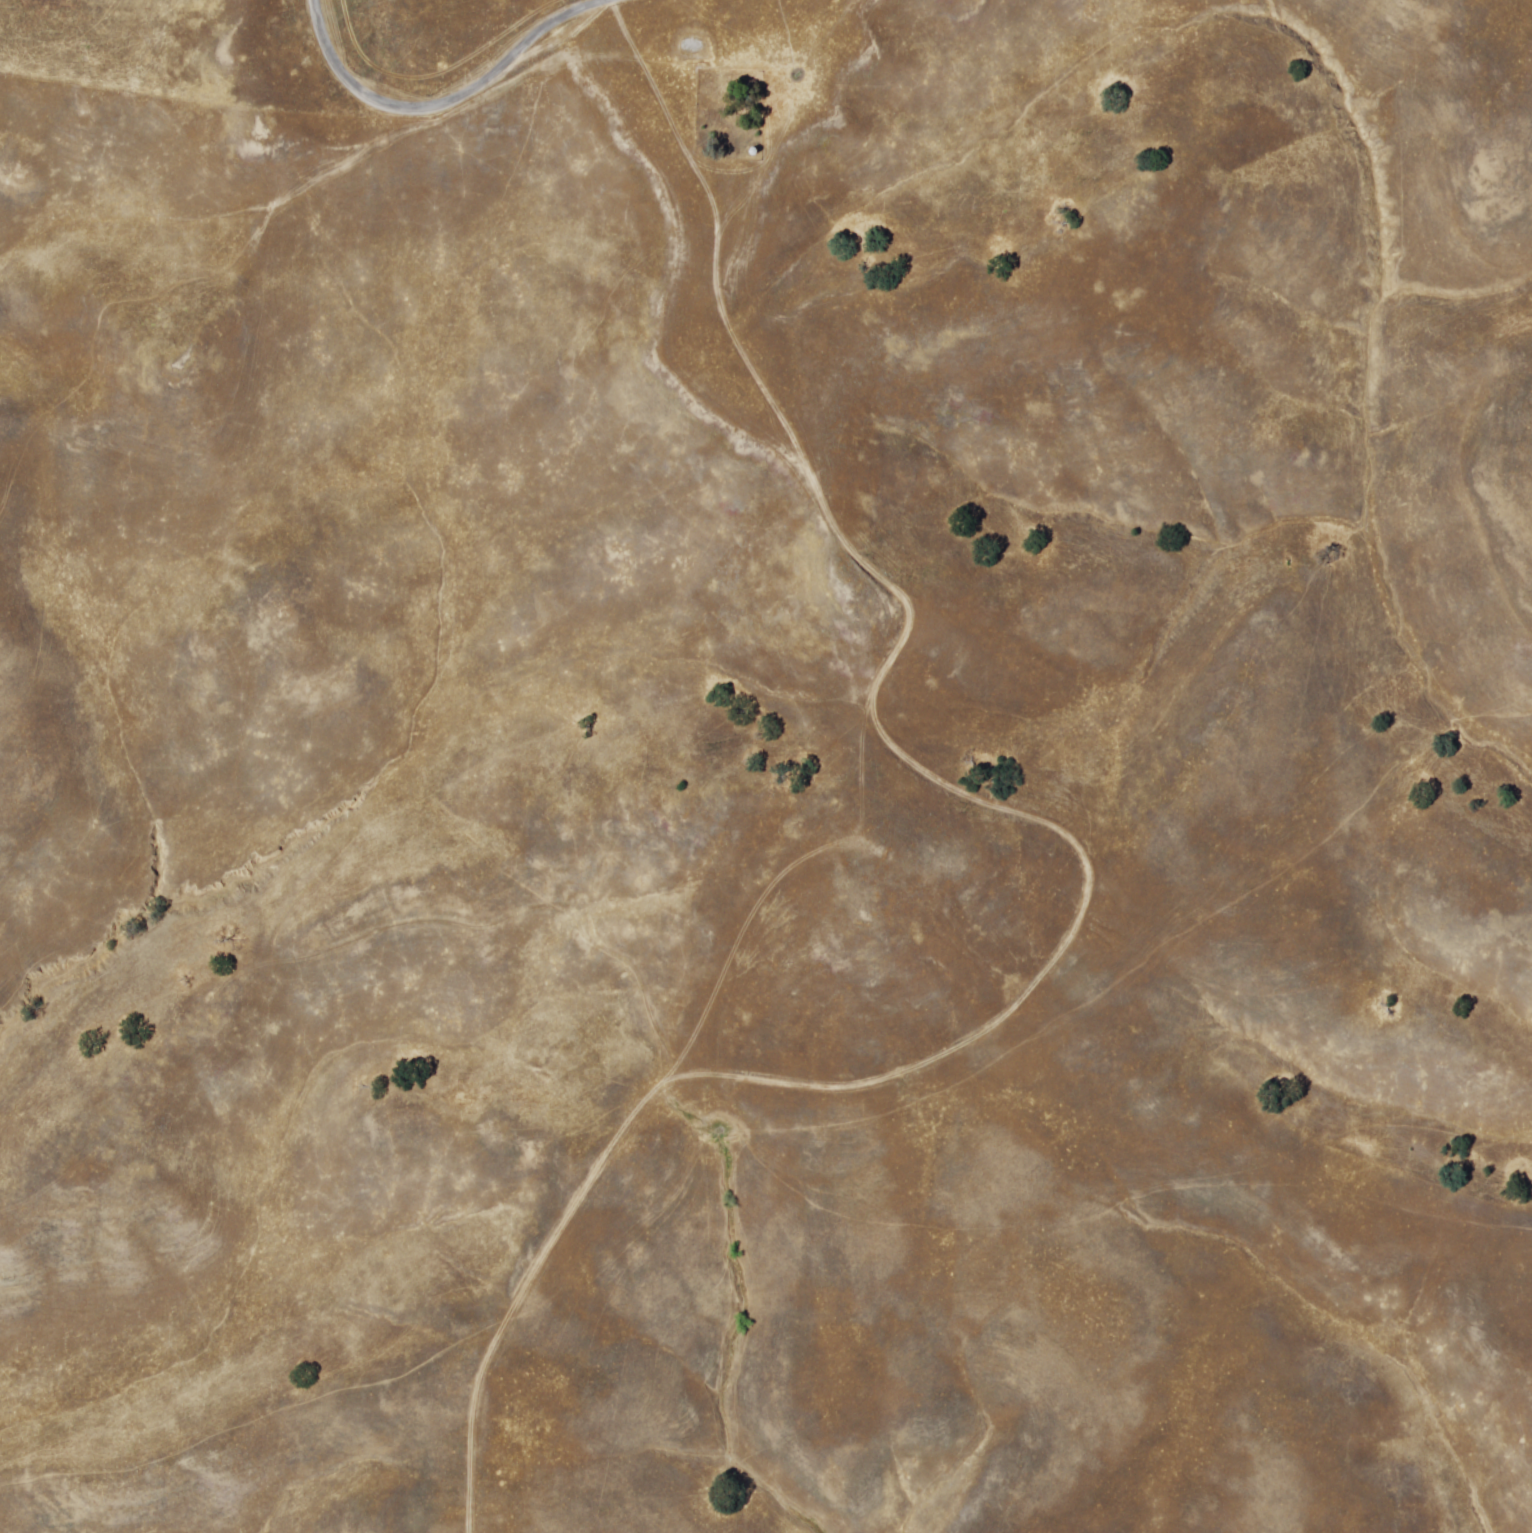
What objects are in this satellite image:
road: (441, 102)
road: (1077, 847)

